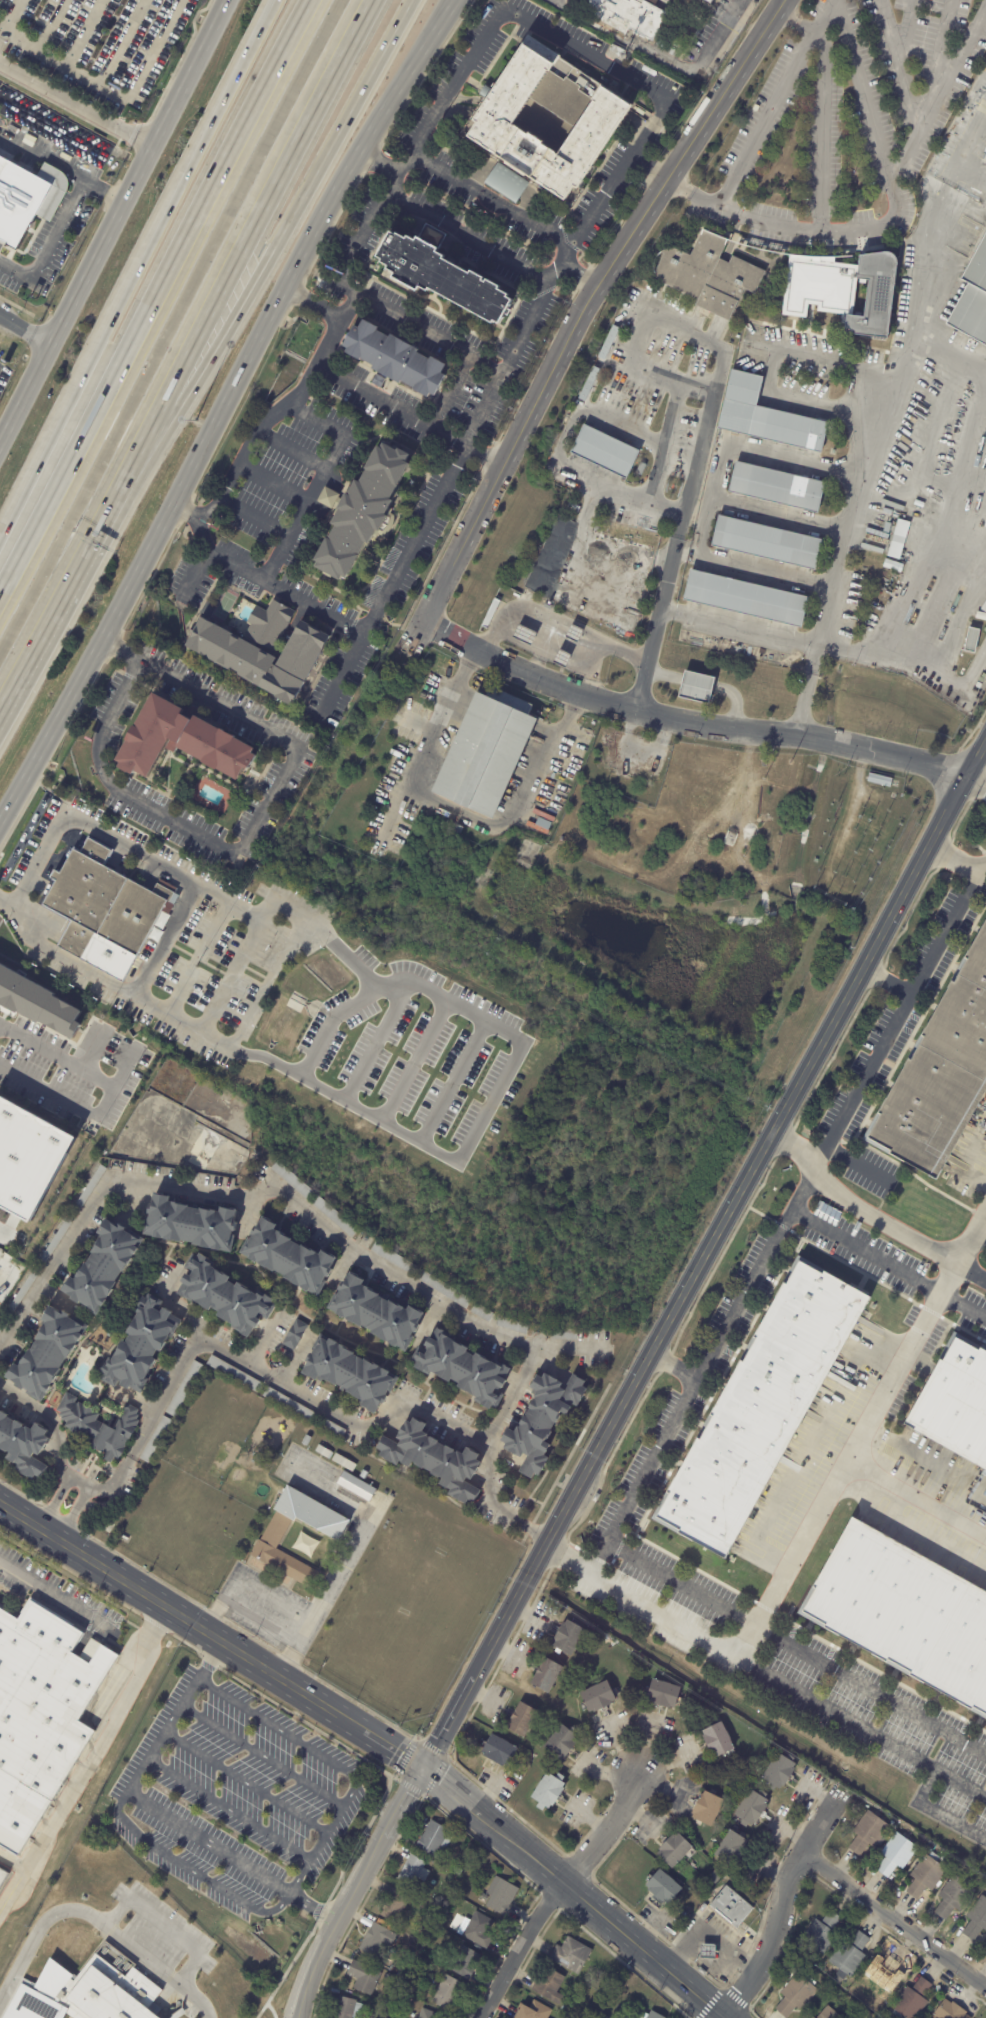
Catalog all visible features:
building: (712, 0)
building: (675, 1)
building: (719, 1)
road: (11, 15)
building: (631, 16)
road: (51, 24)
road: (1, 29)
road: (809, 29)
road: (1, 33)
road: (86, 33)
road: (122, 42)
road: (580, 50)
building: (617, 52)
road: (700, 63)
road: (112, 91)
road: (863, 92)
road: (75, 103)
road: (762, 116)
building: (561, 120)
road: (5, 141)
road: (63, 162)
building: (506, 183)
building: (28, 200)
road: (893, 217)
road: (113, 221)
road: (566, 248)
road: (50, 249)
road: (355, 250)
road: (231, 253)
road: (262, 258)
building: (842, 259)
road: (139, 268)
road: (577, 273)
building: (709, 274)
building: (455, 276)
building: (649, 289)
building: (843, 289)
road: (156, 296)
road: (586, 300)
building: (972, 300)
road: (25, 335)
building: (609, 342)
road: (471, 355)
road: (811, 356)
building: (395, 358)
road: (884, 373)
building: (378, 381)
building: (589, 383)
road: (701, 389)
road: (831, 403)
road: (388, 405)
road: (221, 407)
building: (768, 417)
road: (274, 418)
road: (661, 443)
road: (289, 450)
building: (605, 451)
road: (797, 457)
building: (641, 469)
road: (654, 473)
road: (272, 481)
road: (314, 483)
building: (778, 487)
building: (328, 498)
building: (574, 507)
road: (255, 512)
building: (362, 513)
building: (596, 526)
building: (887, 527)
building: (877, 533)
road: (678, 540)
building: (768, 543)
building: (873, 548)
building: (894, 549)
building: (544, 564)
building: (893, 566)
building: (535, 597)
building: (746, 599)
building: (984, 608)
road: (53, 610)
road: (374, 613)
building: (490, 614)
road: (740, 626)
building: (574, 634)
building: (525, 635)
building: (973, 640)
building: (270, 650)
road: (471, 656)
building: (562, 659)
road: (339, 678)
building: (697, 688)
road: (573, 705)
road: (686, 722)
building: (181, 741)
road: (426, 749)
building: (484, 757)
building: (880, 780)
road: (975, 782)
building: (648, 790)
road: (512, 815)
road: (251, 821)
building: (540, 826)
road: (88, 829)
building: (452, 831)
road: (956, 861)
building: (226, 871)
building: (104, 902)
road: (165, 943)
road: (59, 955)
road: (927, 955)
road: (196, 959)
road: (237, 966)
road: (274, 976)
building: (43, 1001)
road: (331, 1023)
road: (375, 1042)
road: (92, 1049)
road: (58, 1055)
road: (414, 1061)
building: (941, 1074)
road: (451, 1082)
road: (862, 1084)
road: (490, 1101)
road: (84, 1107)
building: (292, 1180)
building: (89, 1189)
road: (290, 1204)
road: (729, 1207)
road: (870, 1215)
building: (334, 1216)
building: (191, 1224)
road: (981, 1237)
building: (56, 1239)
building: (288, 1257)
building: (393, 1258)
road: (891, 1263)
building: (104, 1266)
building: (443, 1289)
building: (224, 1296)
building: (19, 1297)
building: (375, 1313)
building: (482, 1313)
building: (513, 1325)
building: (295, 1334)
building: (564, 1335)
road: (265, 1339)
building: (141, 1347)
building: (47, 1354)
building: (462, 1368)
road: (673, 1369)
building: (350, 1373)
road: (704, 1373)
building: (234, 1374)
building: (183, 1389)
building: (955, 1404)
building: (290, 1405)
road: (325, 1406)
building: (761, 1410)
road: (44, 1413)
building: (542, 1421)
building: (98, 1427)
building: (331, 1429)
building: (275, 1435)
building: (155, 1439)
building: (306, 1440)
building: (23, 1446)
building: (324, 1452)
building: (433, 1459)
building: (343, 1462)
road: (62, 1468)
road: (105, 1485)
building: (355, 1486)
road: (56, 1502)
road: (916, 1502)
road: (75, 1514)
road: (535, 1530)
building: (330, 1531)
road: (806, 1537)
road: (345, 1555)
road: (684, 1587)
road: (262, 1593)
road: (90, 1613)
road: (214, 1614)
road: (179, 1615)
building: (904, 1616)
road: (261, 1619)
building: (568, 1636)
building: (546, 1674)
road: (873, 1692)
building: (663, 1693)
building: (598, 1695)
building: (42, 1713)
building: (521, 1720)
road: (447, 1722)
road: (865, 1729)
building: (718, 1738)
building: (560, 1742)
road: (390, 1748)
building: (499, 1749)
road: (262, 1756)
road: (333, 1763)
traffic signals: (421, 1768)
building: (780, 1770)
road: (78, 1778)
road: (246, 1783)
building: (548, 1789)
road: (449, 1791)
parking lot: (234, 1796)
road: (402, 1802)
building: (751, 1807)
road: (159, 1808)
building: (707, 1808)
road: (229, 1810)
building: (868, 1832)
building: (434, 1839)
building: (924, 1839)
building: (731, 1848)
building: (674, 1849)
building: (896, 1854)
road: (10, 1864)
building: (1, 1867)
road: (189, 1870)
building: (457, 1870)
building: (413, 1871)
building: (926, 1876)
building: (3, 1877)
building: (663, 1886)
road: (554, 1893)
building: (499, 1895)
building: (955, 1896)
building: (452, 1902)
building: (395, 1905)
road: (778, 1906)
building: (731, 1907)
road: (600, 1916)
building: (977, 1919)
road: (894, 1920)
road: (333, 1924)
road: (163, 1925)
building: (479, 1929)
road: (37, 1933)
building: (822, 1933)
road: (709, 1937)
building: (751, 1937)
building: (377, 1939)
building: (708, 1951)
building: (571, 1954)
building: (850, 1954)
building: (407, 1955)
building: (464, 1962)
road: (158, 1970)
building: (363, 1976)
building: (228, 1980)
building: (549, 1984)
building: (448, 1992)
building: (85, 1993)
building: (797, 1994)
building: (913, 1999)
building: (563, 2007)
building: (347, 2008)
building: (950, 2010)
building: (534, 2011)
building: (829, 2013)
building: (429, 2014)
building: (655, 2015)
building: (603, 2016)
building: (883, 2016)
building: (813, 2017)

